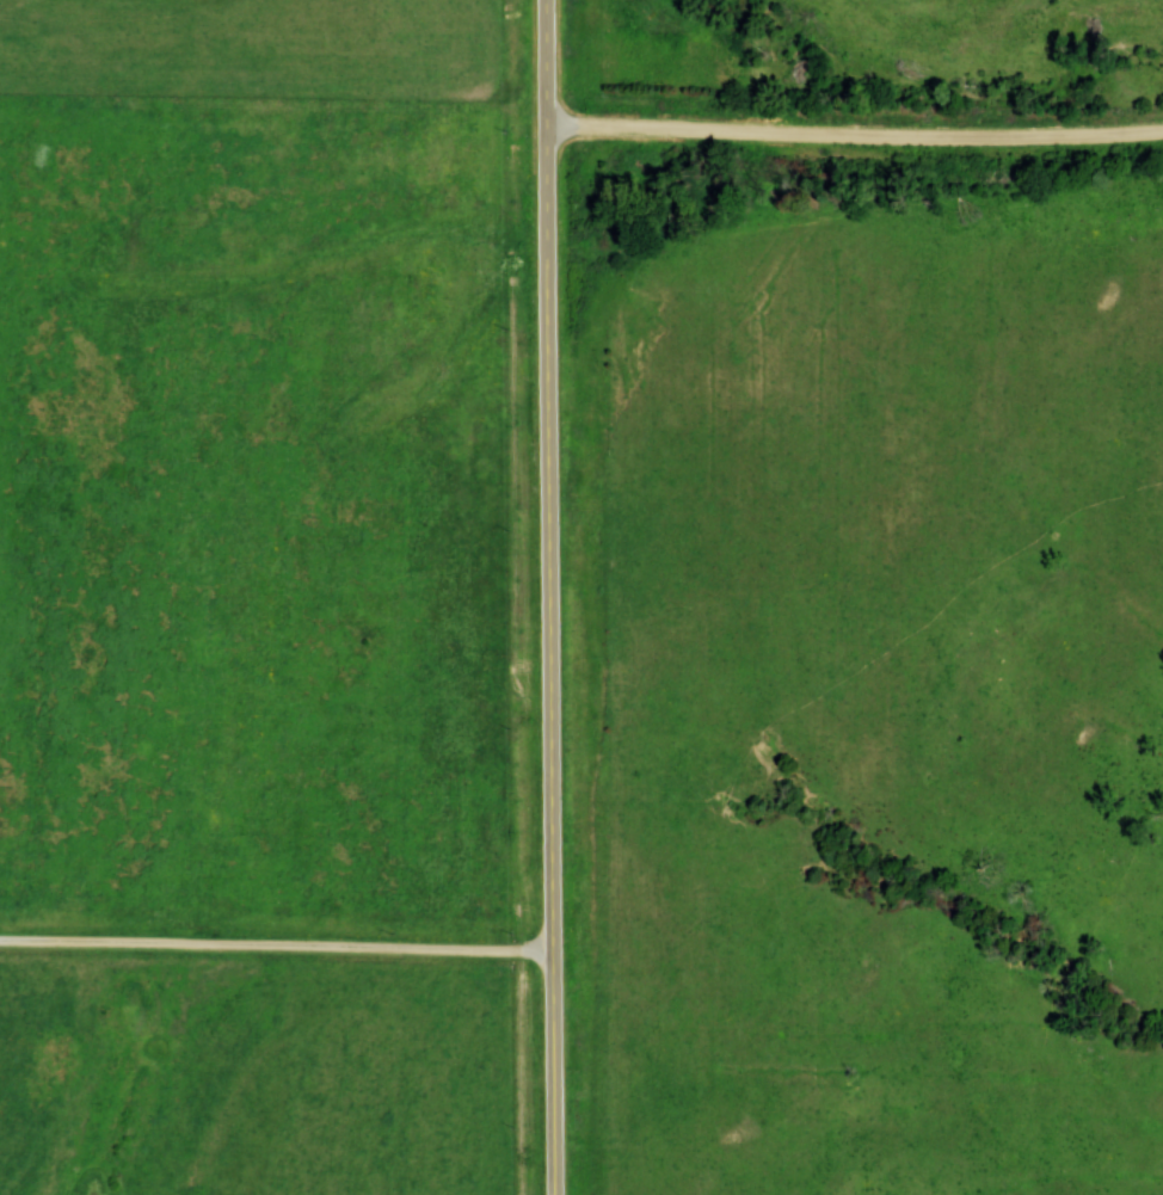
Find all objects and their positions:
road: (859, 141)
road: (562, 597)
road: (284, 949)

